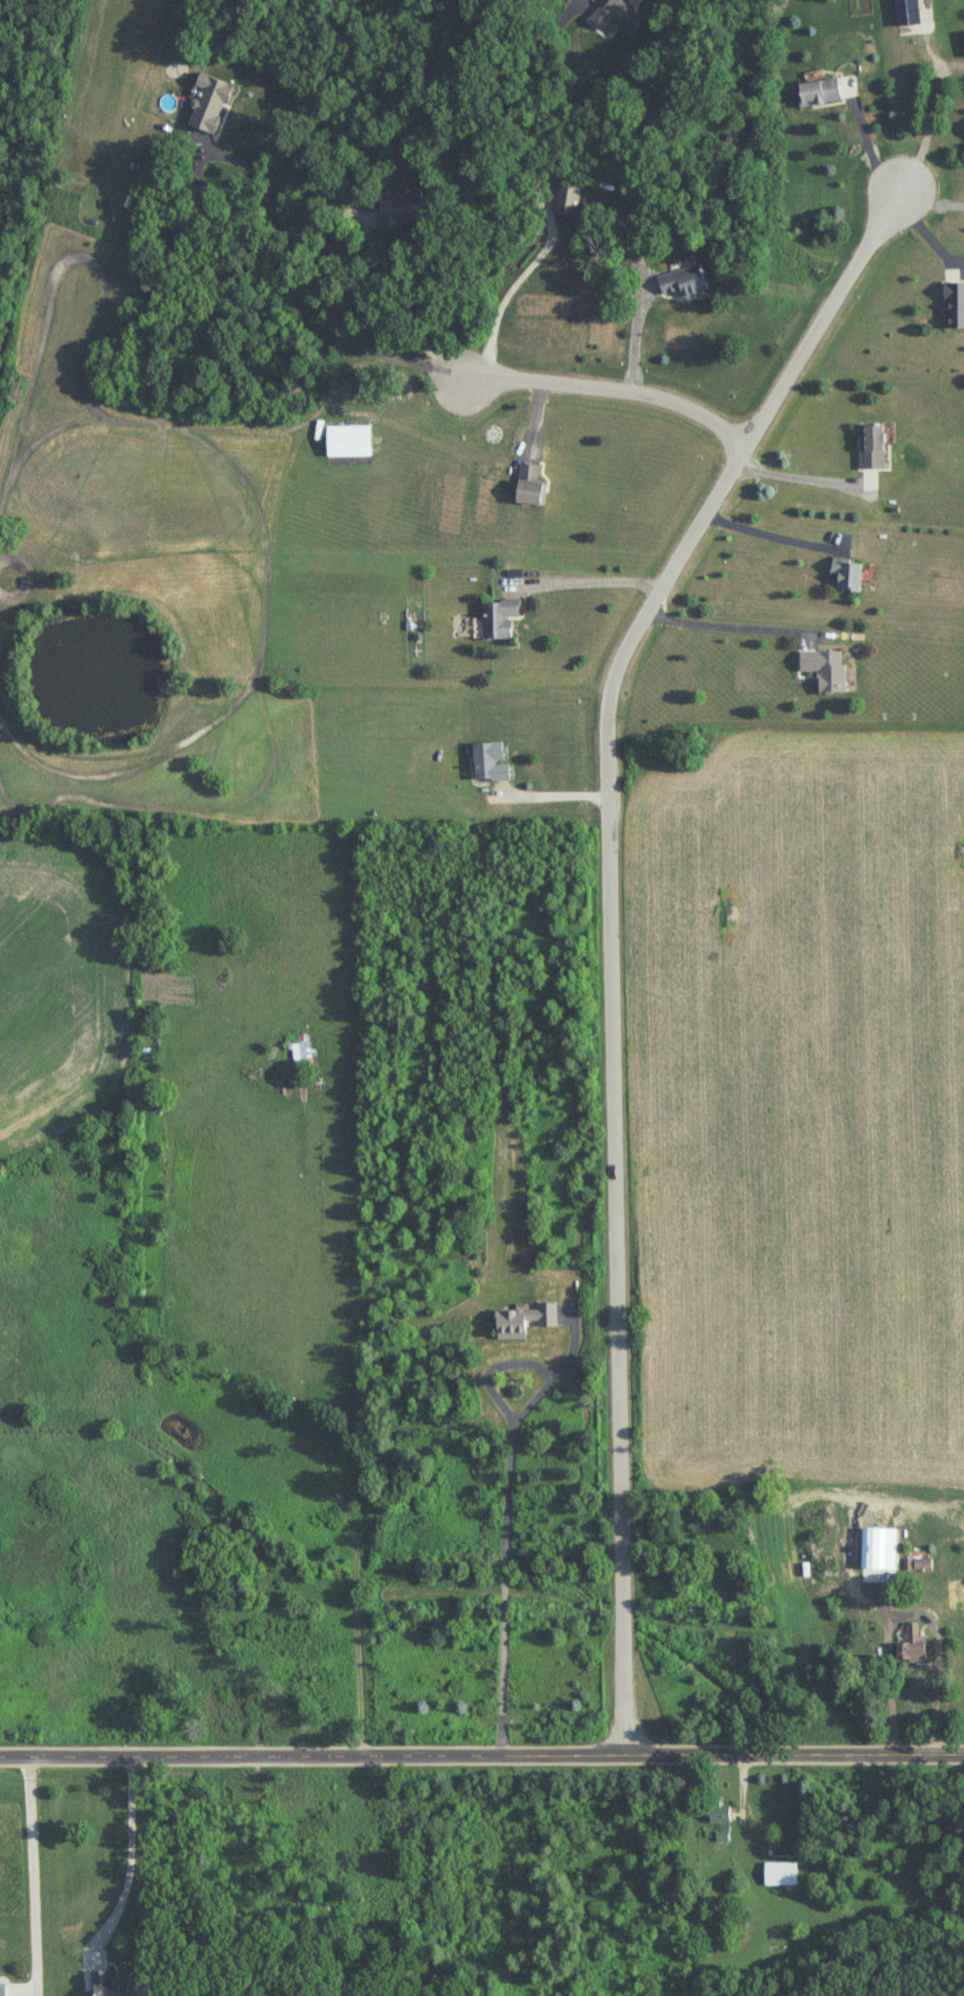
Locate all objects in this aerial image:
building: (905, 13)
building: (615, 16)
building: (963, 36)
road: (415, 77)
building: (817, 93)
building: (207, 105)
road: (932, 117)
road: (870, 147)
building: (565, 202)
building: (392, 211)
building: (682, 285)
road: (509, 290)
road: (416, 295)
road: (291, 297)
building: (952, 306)
road: (636, 334)
road: (613, 391)
building: (869, 448)
road: (796, 479)
building: (526, 485)
road: (768, 536)
building: (844, 577)
road: (588, 578)
building: (498, 620)
road: (727, 621)
building: (823, 671)
building: (488, 765)
road: (555, 796)
road: (612, 934)
building: (301, 1050)
building: (522, 1321)
road: (508, 1497)
building: (824, 1552)
building: (920, 1564)
road: (907, 1613)
building: (911, 1645)
road: (482, 1756)
building: (716, 1815)
road: (131, 1853)
road: (36, 1867)
building: (778, 1875)
building: (102, 1983)
building: (1, 1988)

